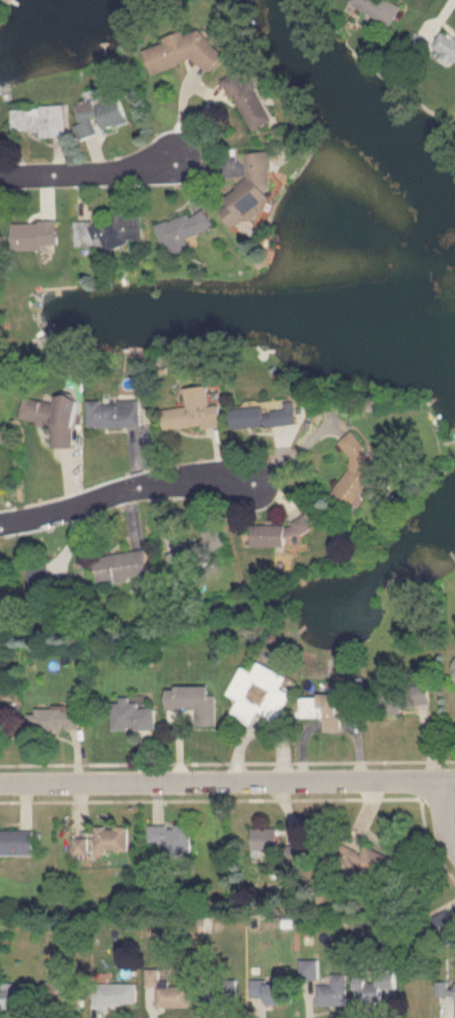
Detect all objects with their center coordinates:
building: (379, 8)
building: (423, 46)
building: (447, 47)
building: (183, 51)
building: (249, 101)
building: (99, 117)
building: (40, 120)
road: (89, 175)
building: (254, 187)
building: (184, 229)
building: (109, 230)
building: (36, 234)
building: (194, 411)
building: (116, 414)
building: (266, 416)
building: (55, 418)
road: (293, 450)
building: (353, 473)
road: (124, 492)
building: (275, 533)
building: (198, 548)
building: (122, 566)
building: (261, 693)
building: (406, 697)
building: (195, 702)
building: (324, 708)
building: (134, 716)
building: (56, 717)
road: (227, 782)
road: (443, 816)
building: (172, 837)
building: (112, 838)
building: (266, 839)
building: (17, 842)
building: (81, 845)
building: (363, 861)
building: (309, 969)
building: (374, 988)
building: (167, 990)
building: (445, 990)
building: (217, 991)
building: (268, 991)
building: (334, 991)
building: (64, 994)
building: (116, 994)
building: (15, 995)

